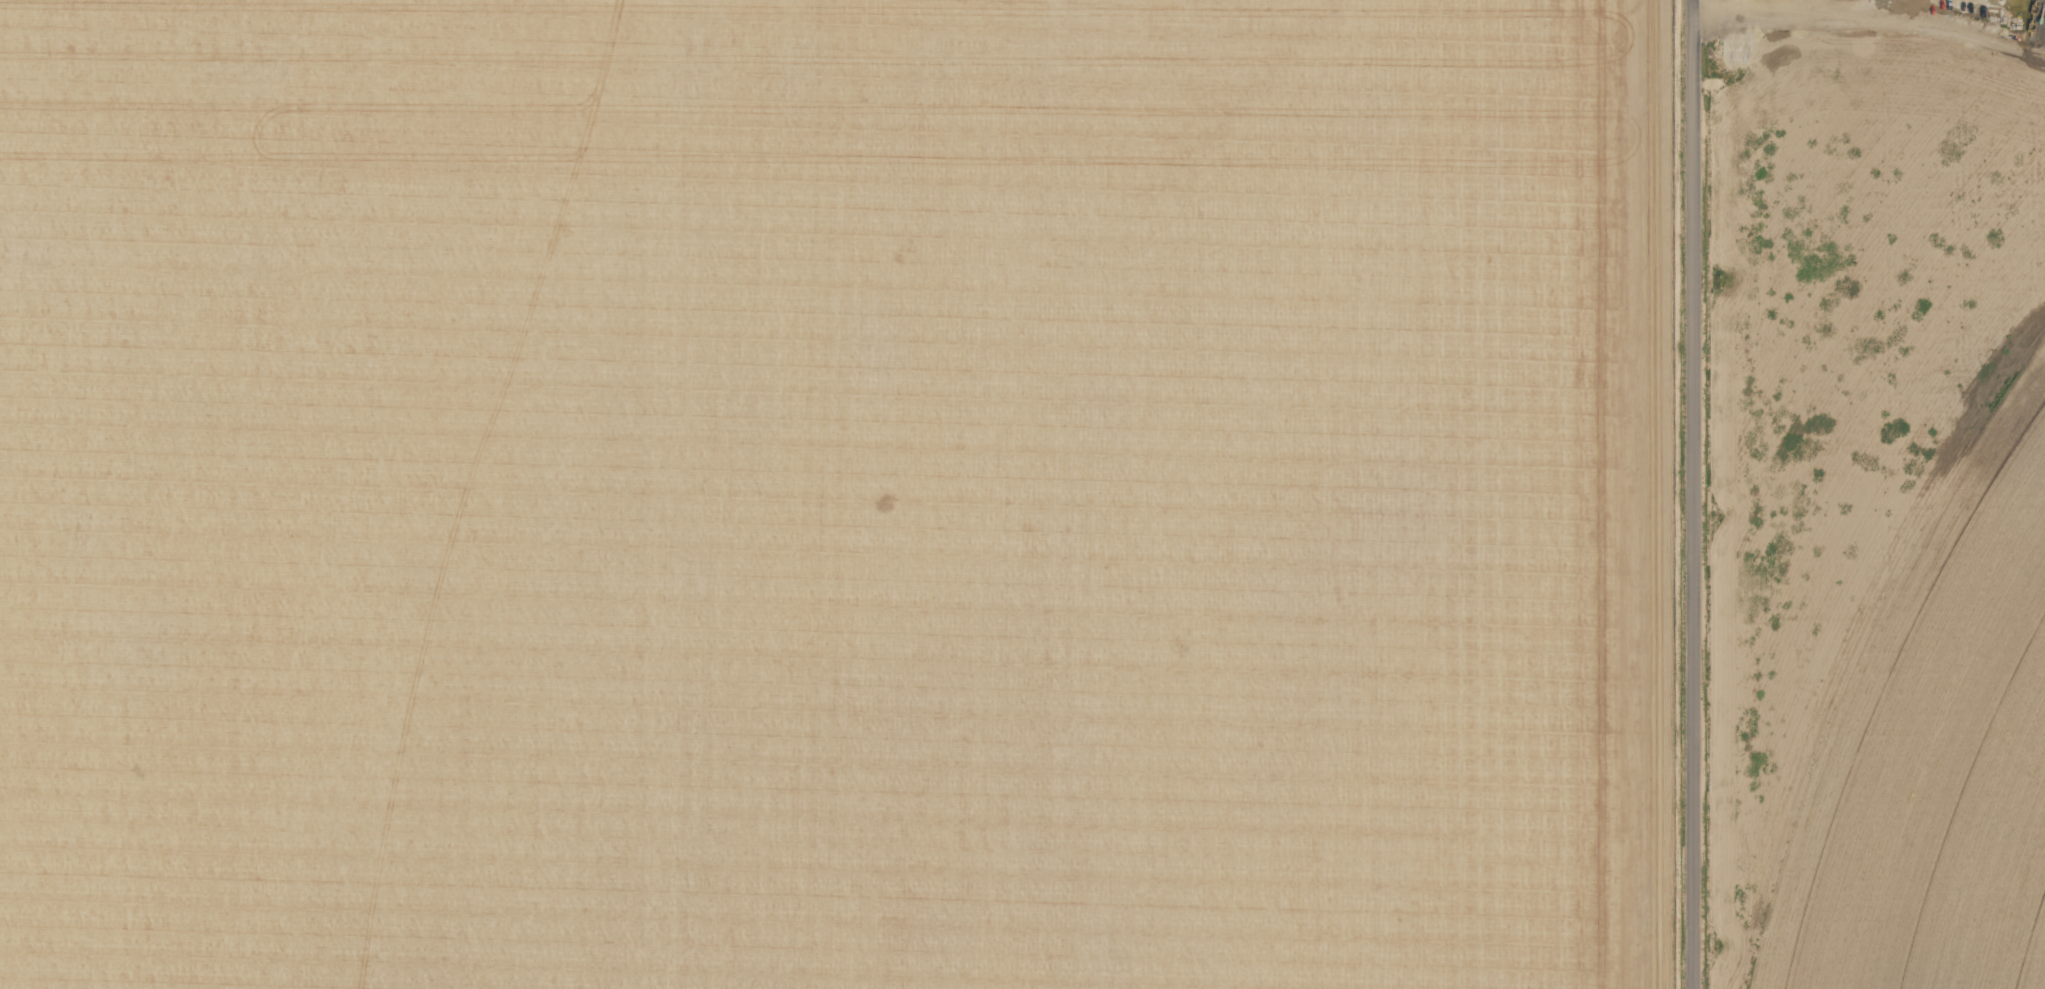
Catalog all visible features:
road: (1696, 494)

